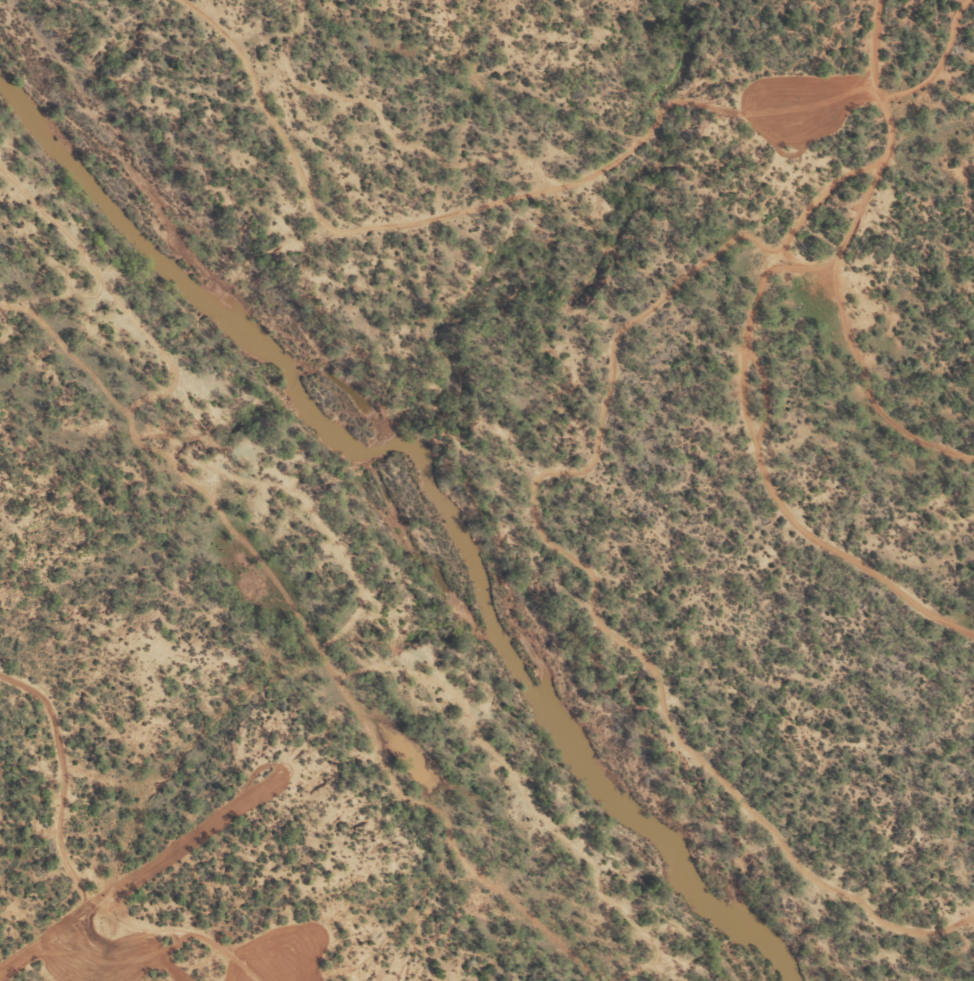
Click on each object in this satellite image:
road: (588, 168)
river: (438, 483)

